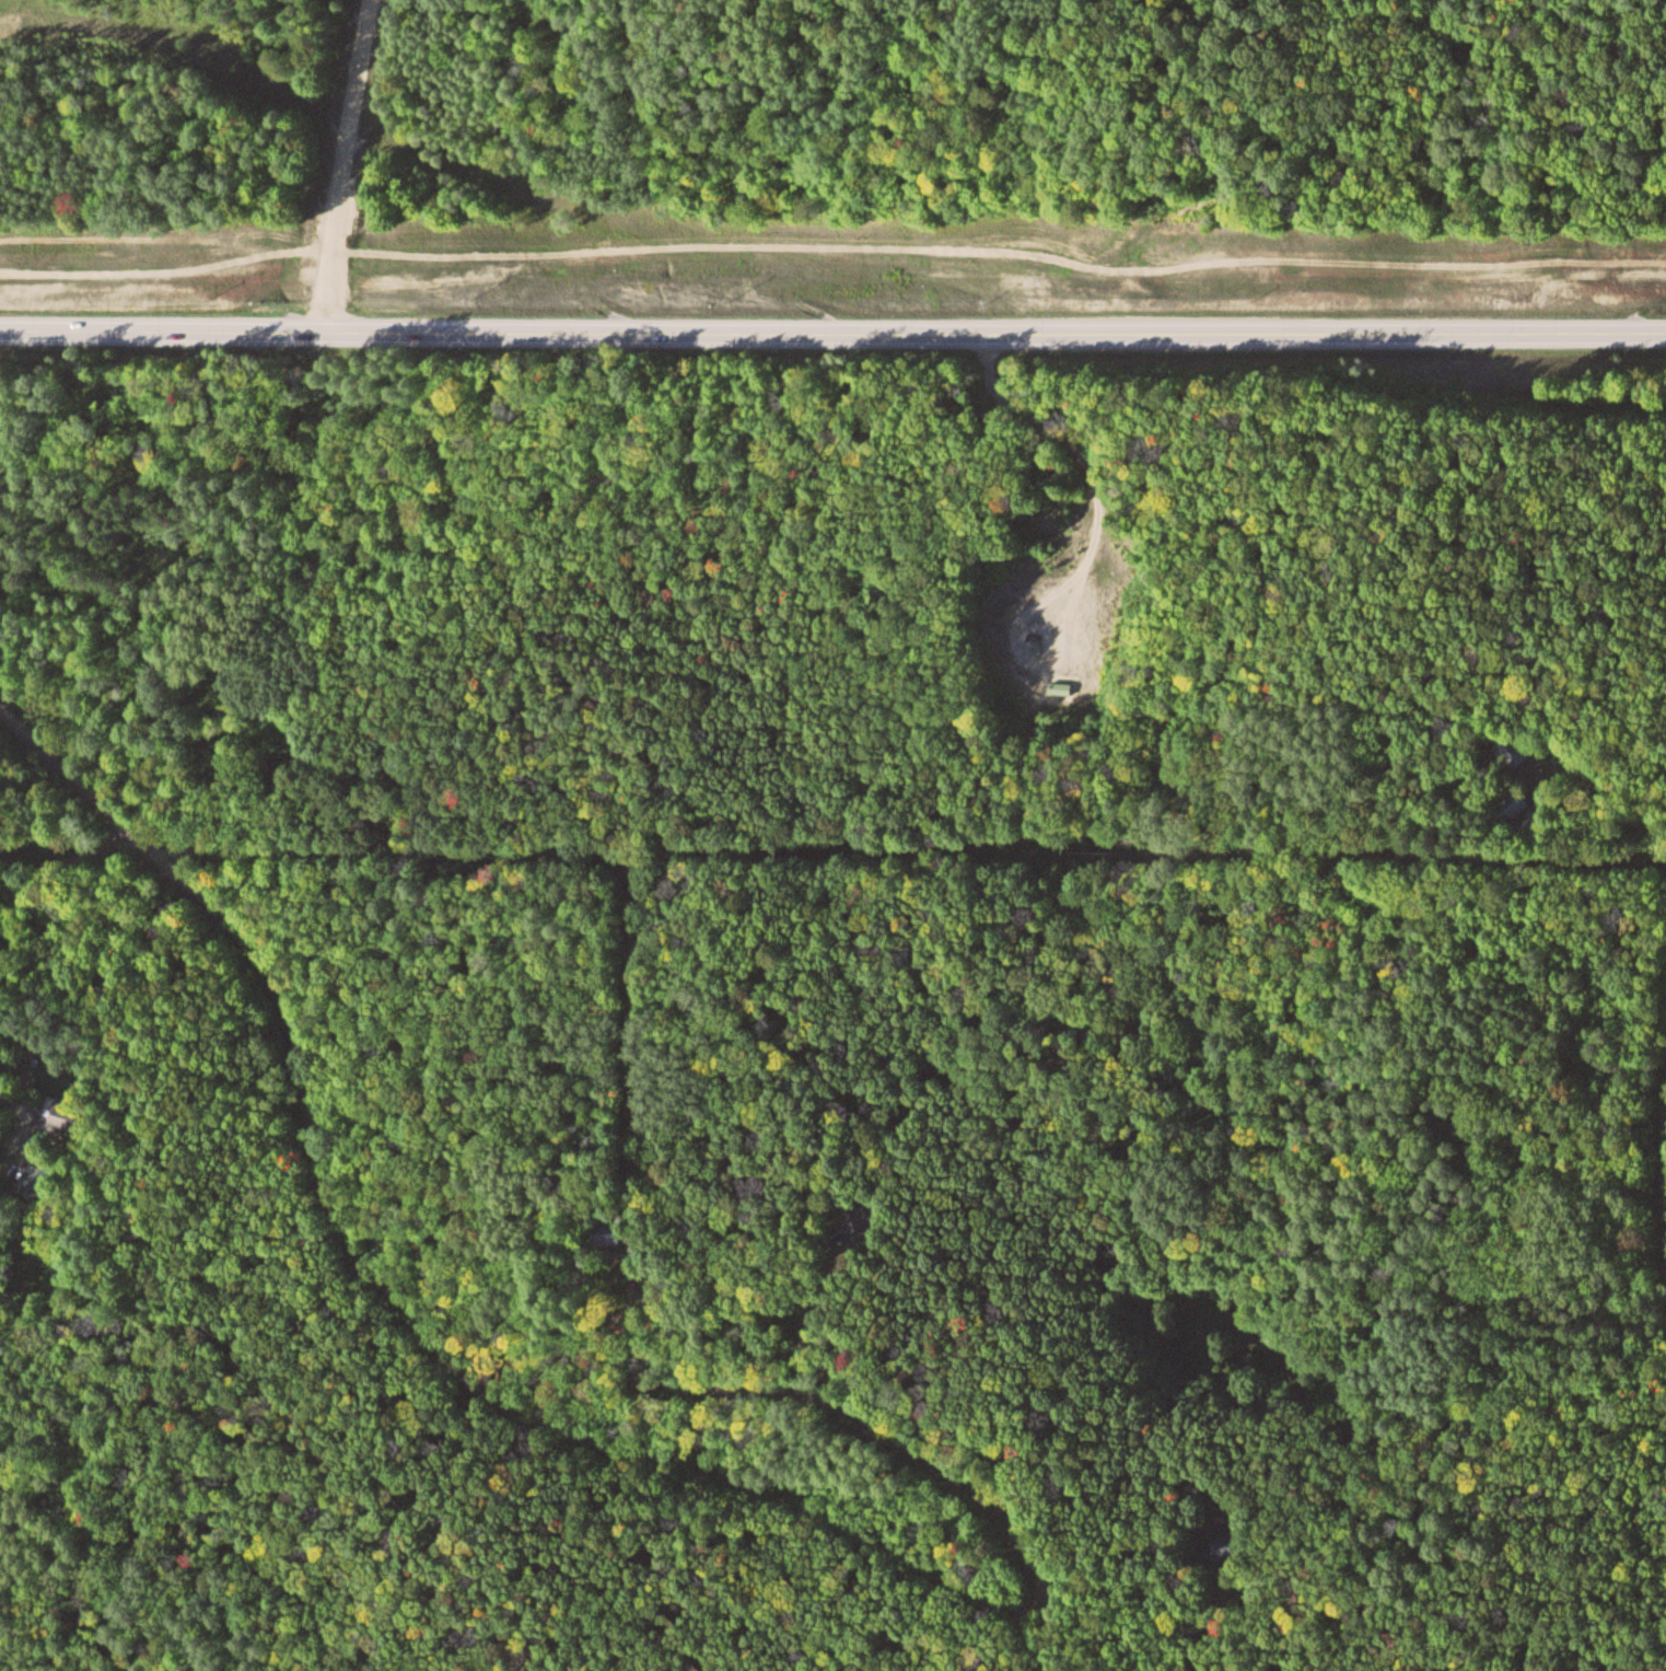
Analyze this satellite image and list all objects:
road: (338, 167)
road: (832, 251)
road: (832, 339)
road: (1093, 544)
petroleum well: (1042, 640)
road: (1616, 804)
road: (1665, 1223)
road: (409, 1315)
road: (920, 1397)

